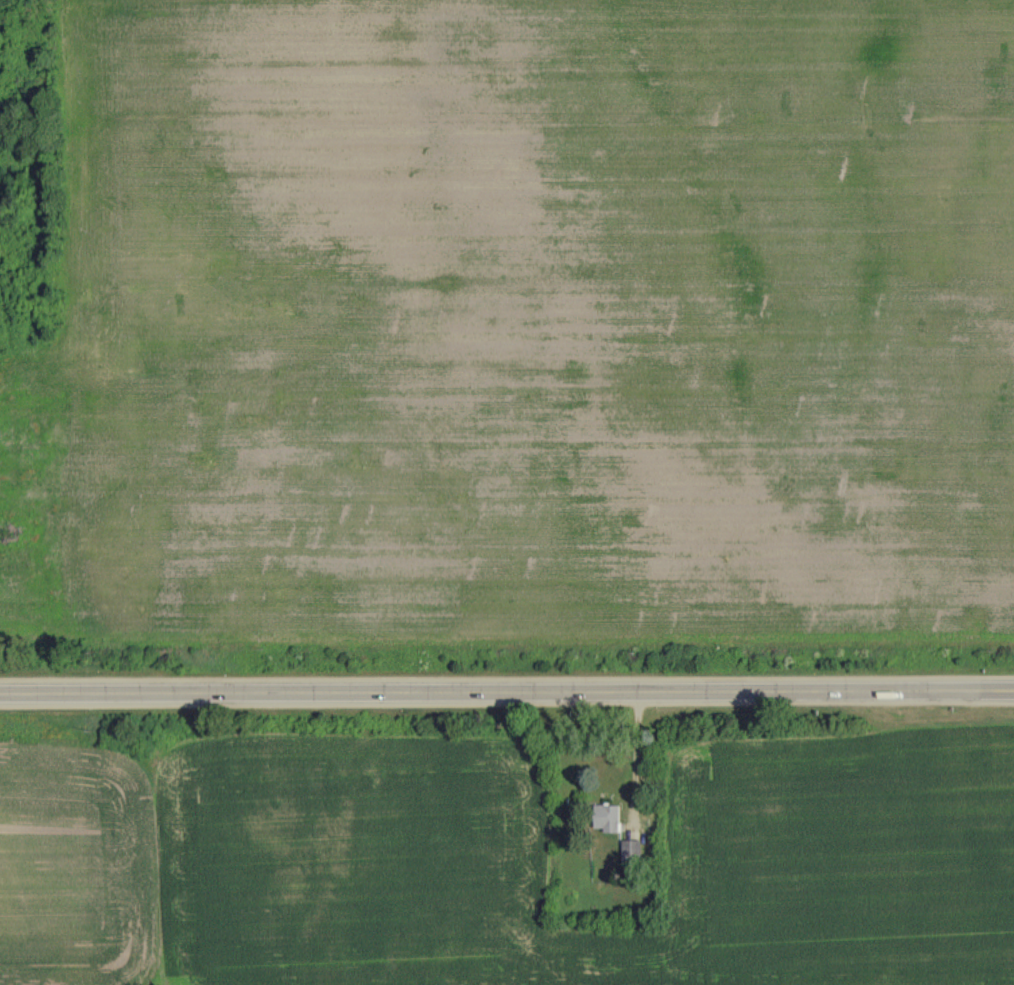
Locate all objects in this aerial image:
road: (507, 690)
building: (605, 817)
building: (630, 850)

